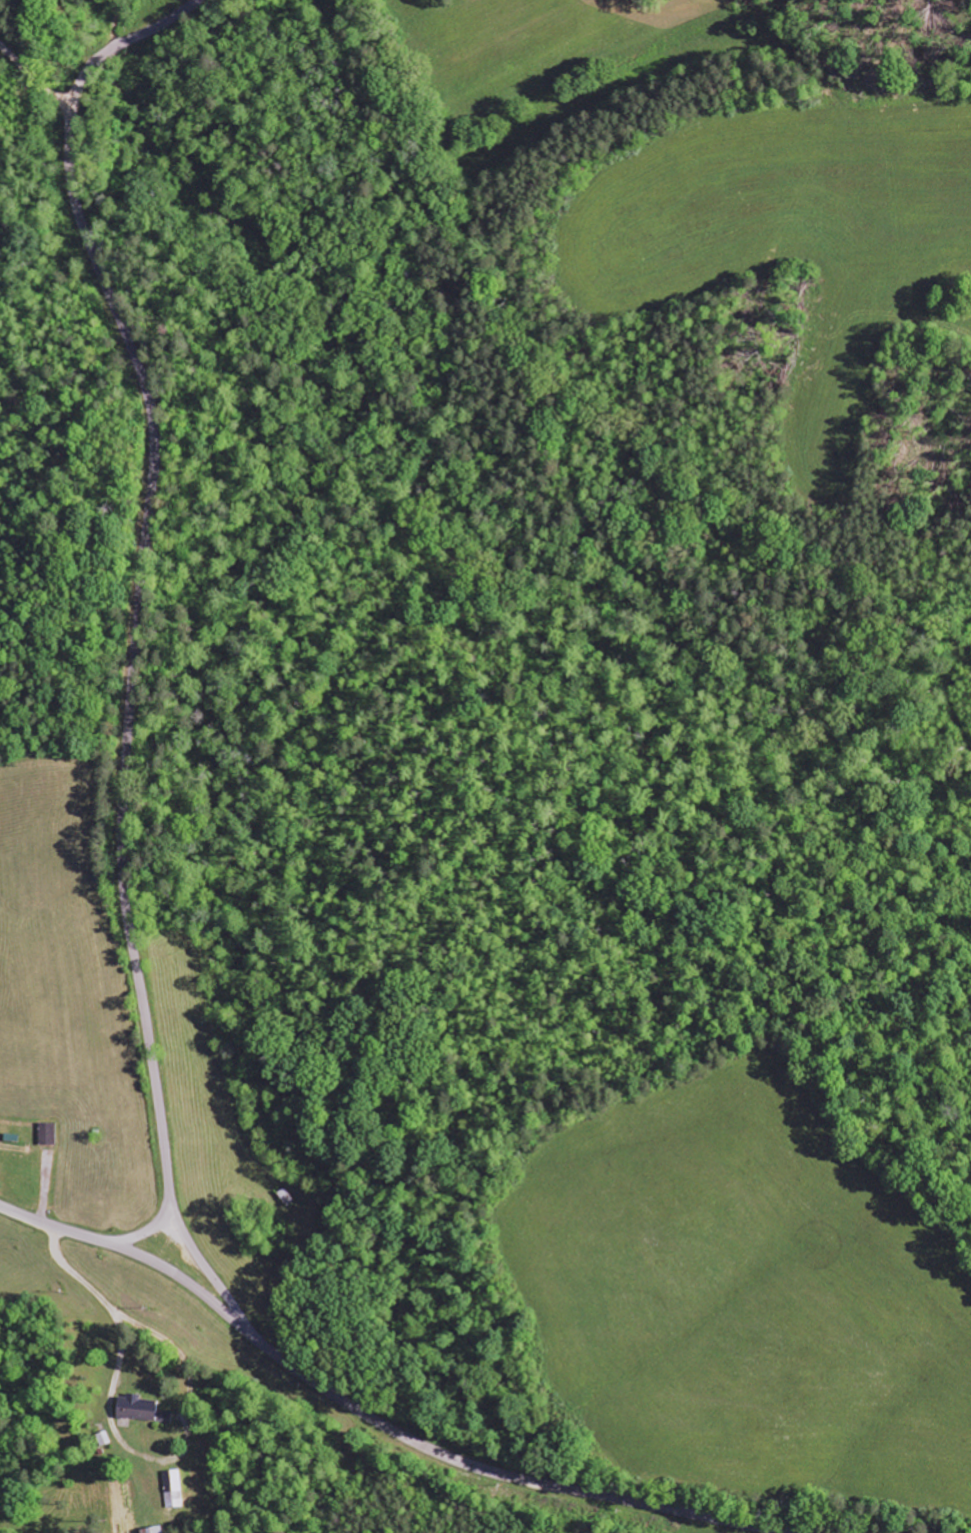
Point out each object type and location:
road: (135, 645)
building: (44, 1135)
road: (144, 1223)
building: (134, 1409)
building: (163, 1417)
road: (373, 1418)
building: (171, 1490)
building: (149, 1530)

